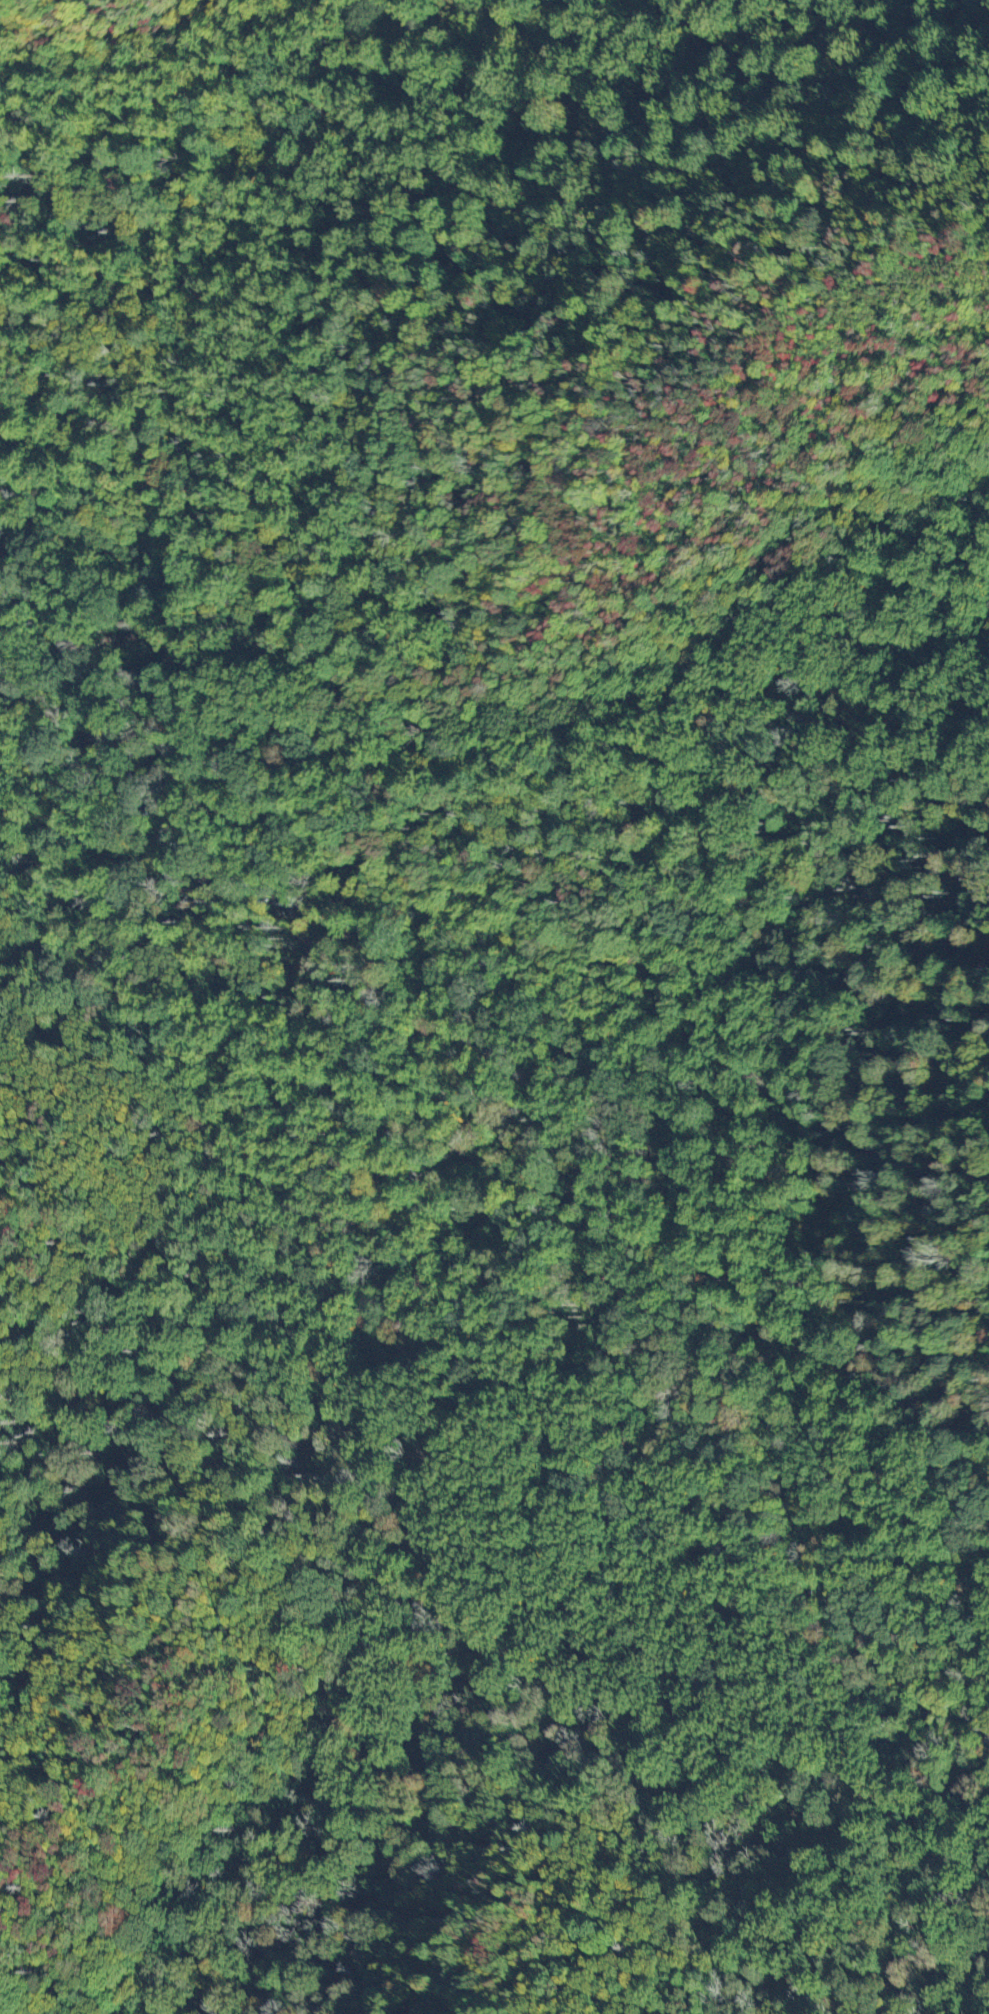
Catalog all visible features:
road: (357, 249)
road: (534, 983)

